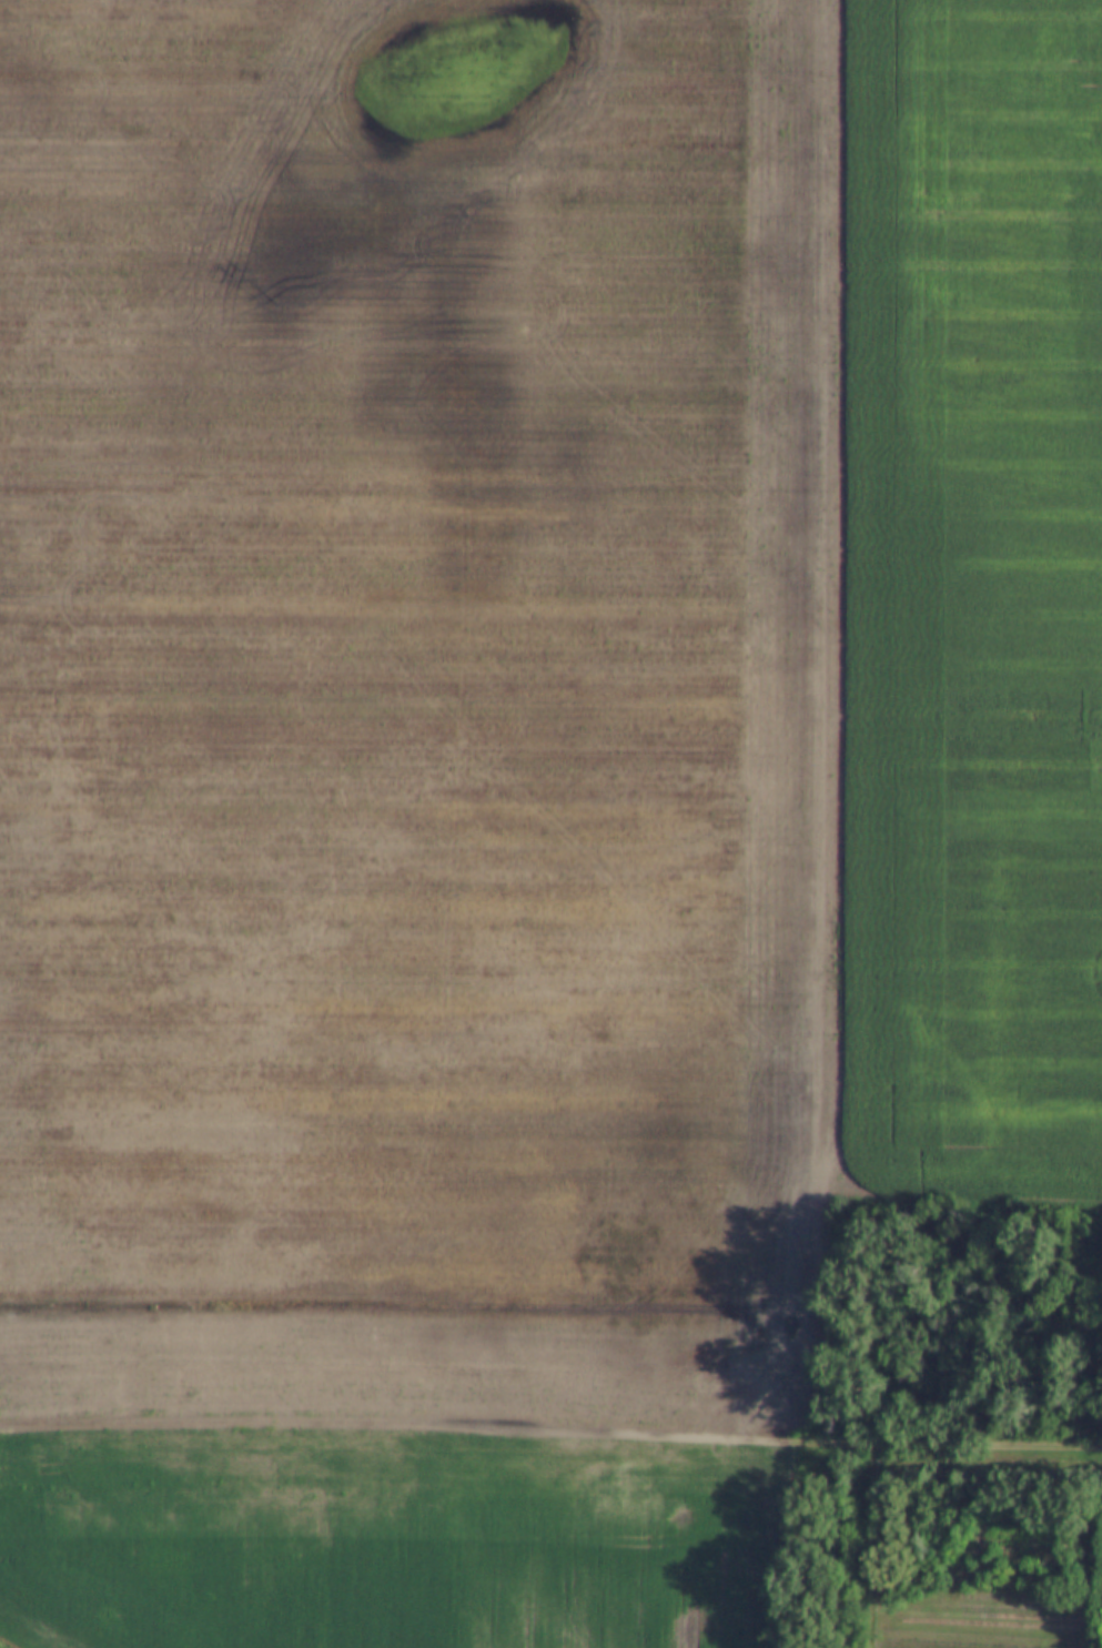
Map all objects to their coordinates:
road: (550, 1436)

